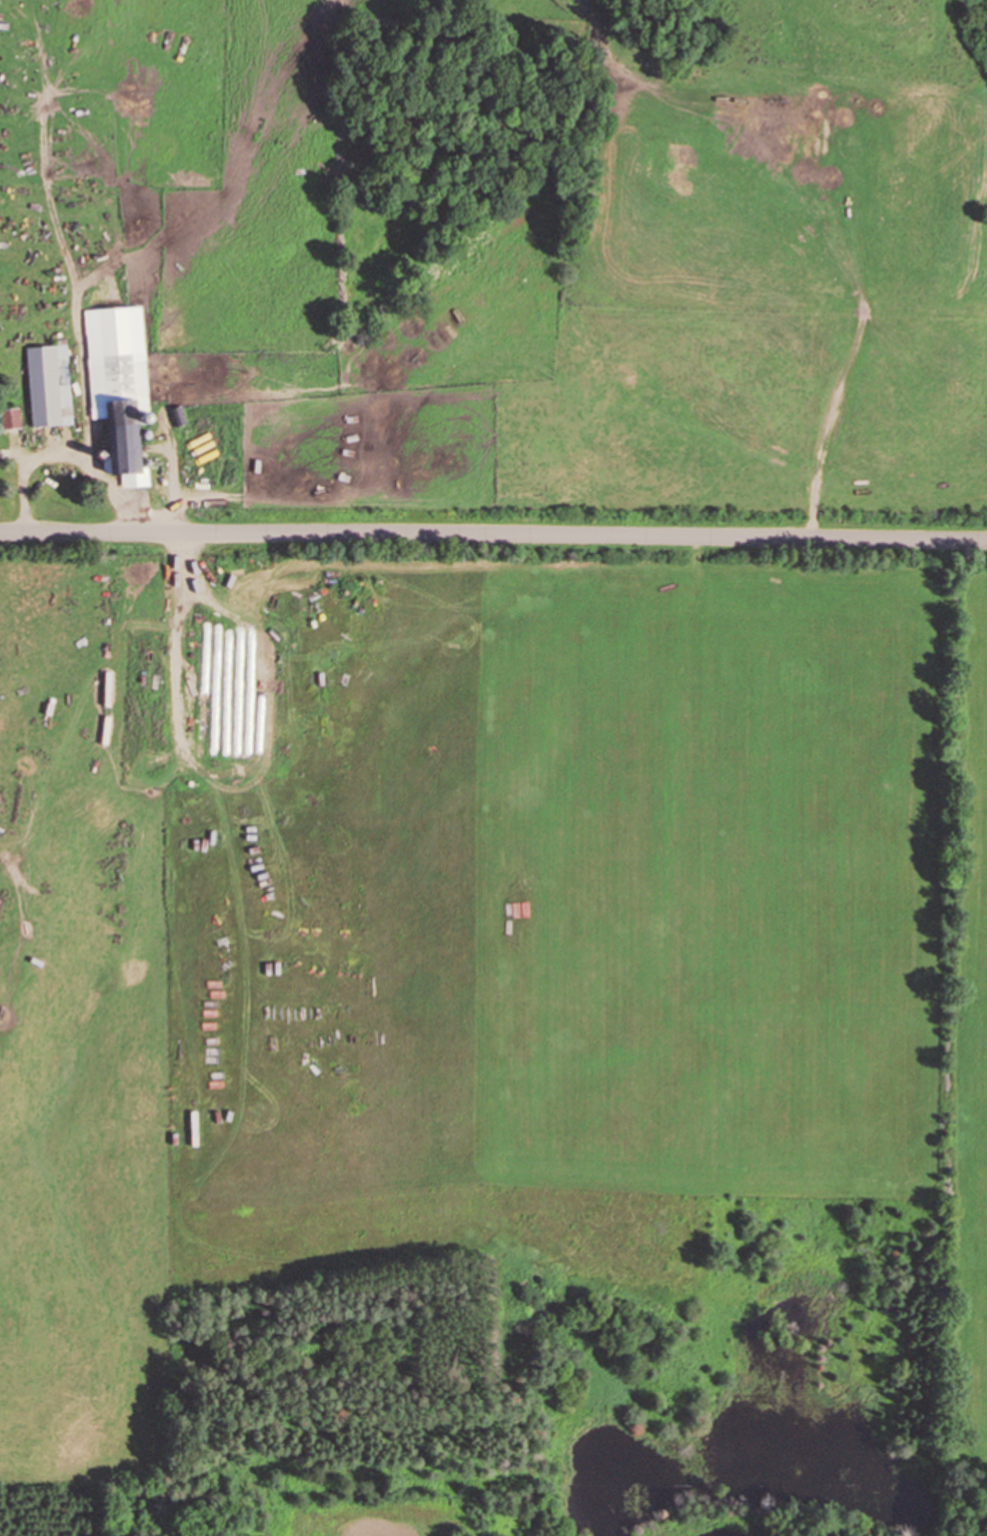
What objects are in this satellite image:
building: (118, 380)
building: (49, 384)
road: (493, 534)

